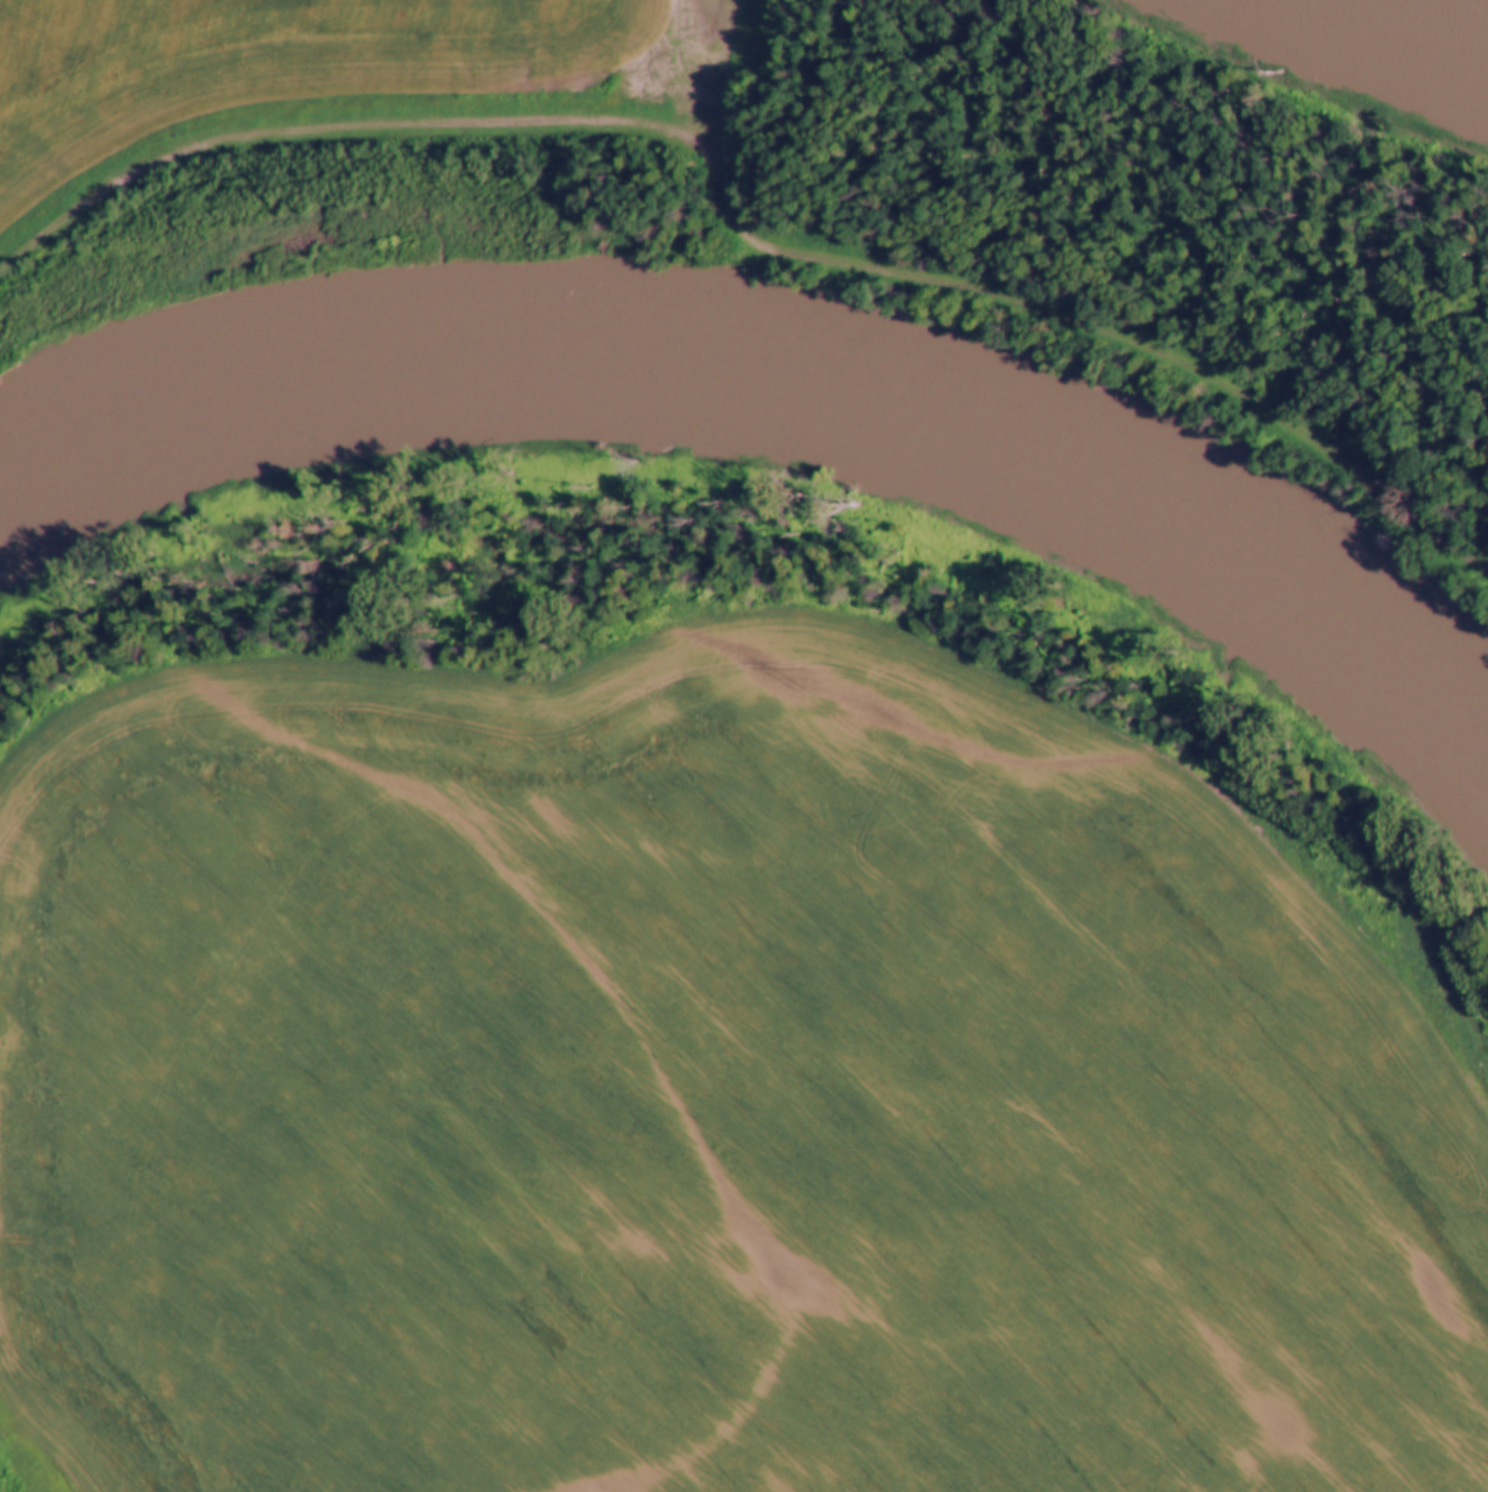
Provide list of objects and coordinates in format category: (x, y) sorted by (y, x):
river: (1439, 21)
road: (739, 232)
river: (801, 396)

